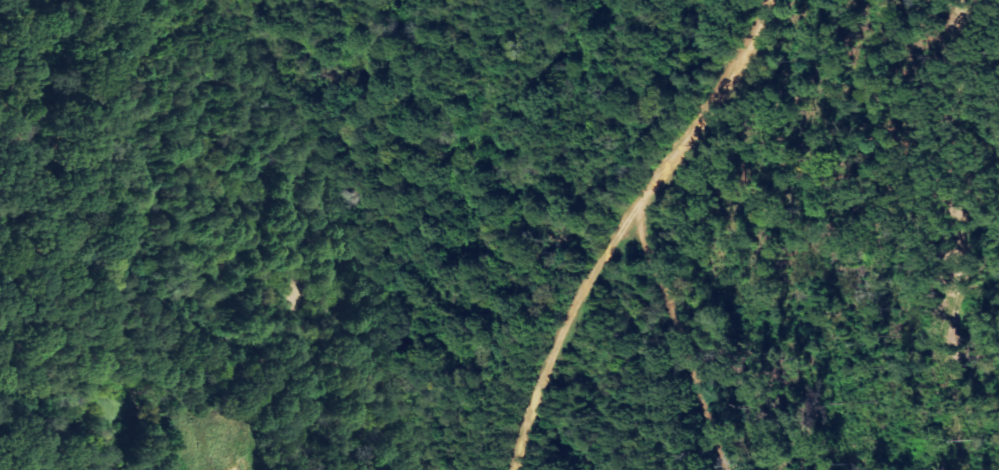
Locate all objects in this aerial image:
road: (616, 229)

